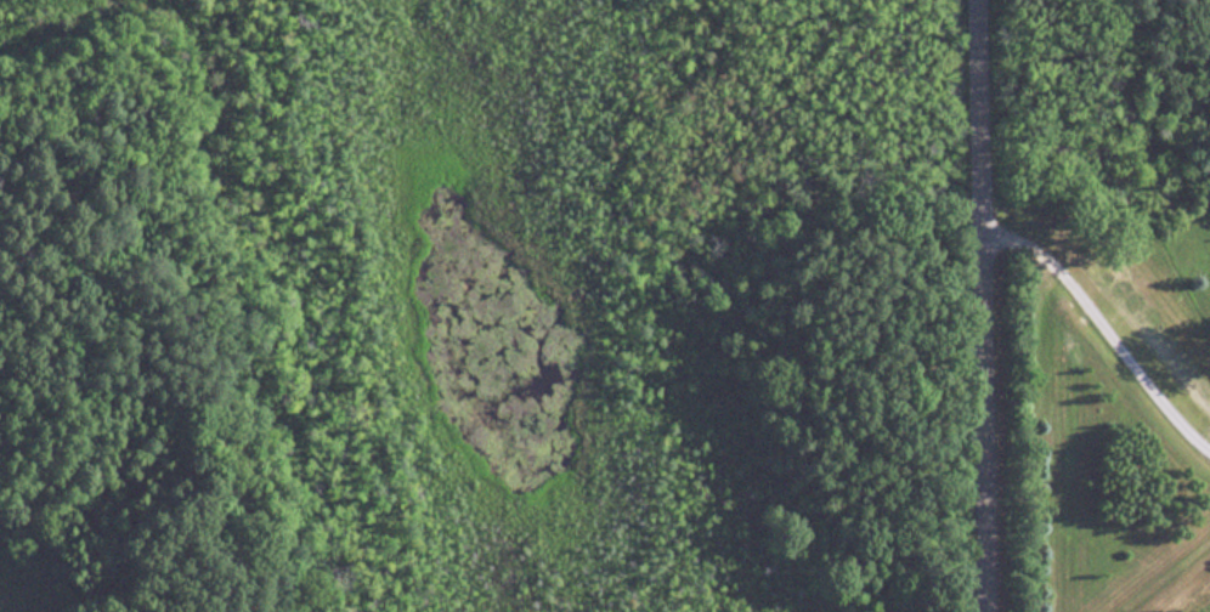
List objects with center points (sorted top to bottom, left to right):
road: (980, 306)
road: (1104, 313)

